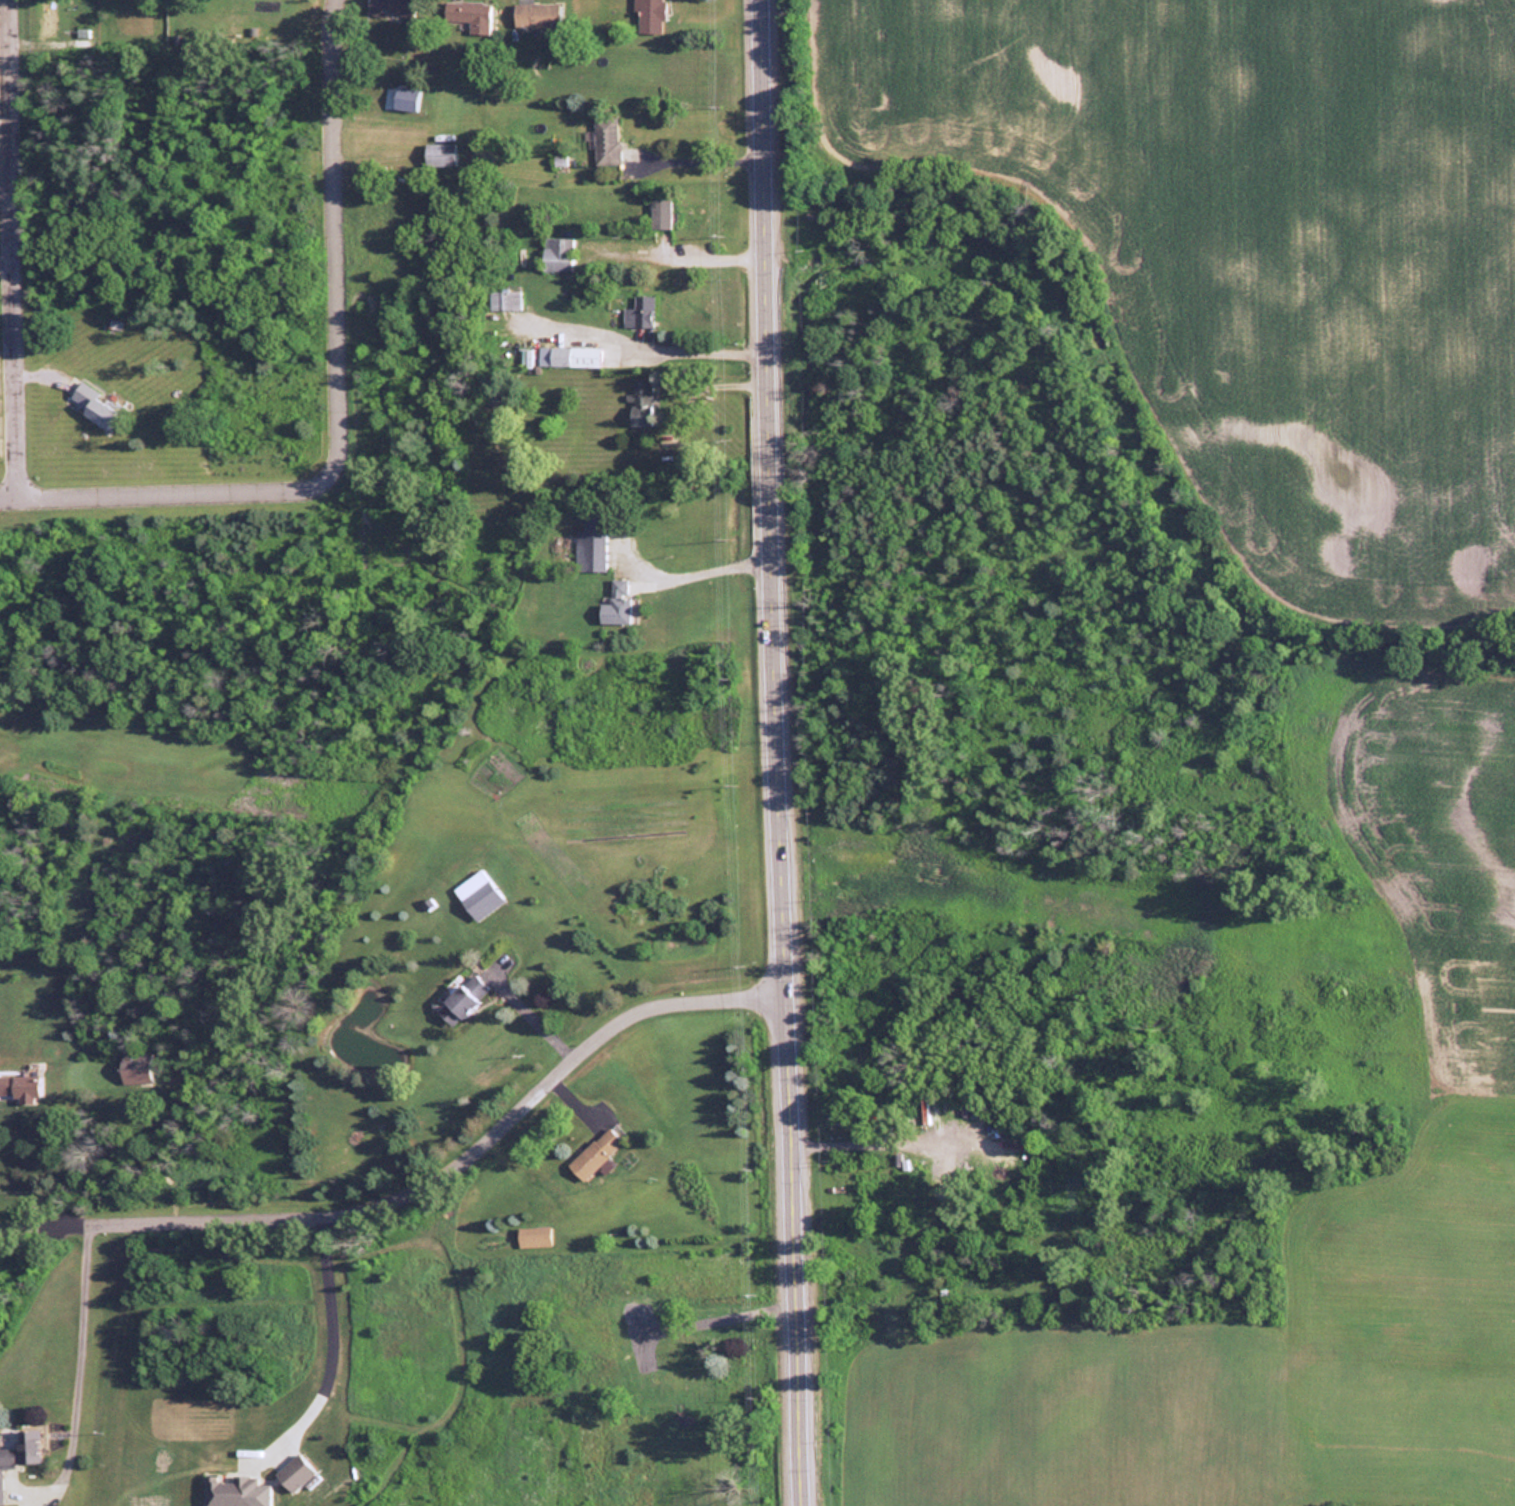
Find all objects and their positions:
building: (391, 7)
building: (466, 11)
building: (535, 15)
building: (649, 16)
building: (605, 139)
building: (439, 152)
road: (690, 157)
building: (659, 212)
road: (13, 246)
building: (556, 253)
road: (7, 261)
building: (506, 299)
building: (638, 312)
road: (636, 345)
building: (575, 354)
road: (343, 395)
building: (640, 397)
building: (93, 405)
building: (590, 545)
building: (616, 603)
road: (779, 753)
building: (478, 894)
building: (462, 998)
building: (136, 1072)
building: (19, 1088)
building: (593, 1154)
road: (424, 1186)
building: (534, 1236)
road: (328, 1328)
road: (74, 1352)
building: (21, 1452)
building: (294, 1473)
building: (229, 1491)

